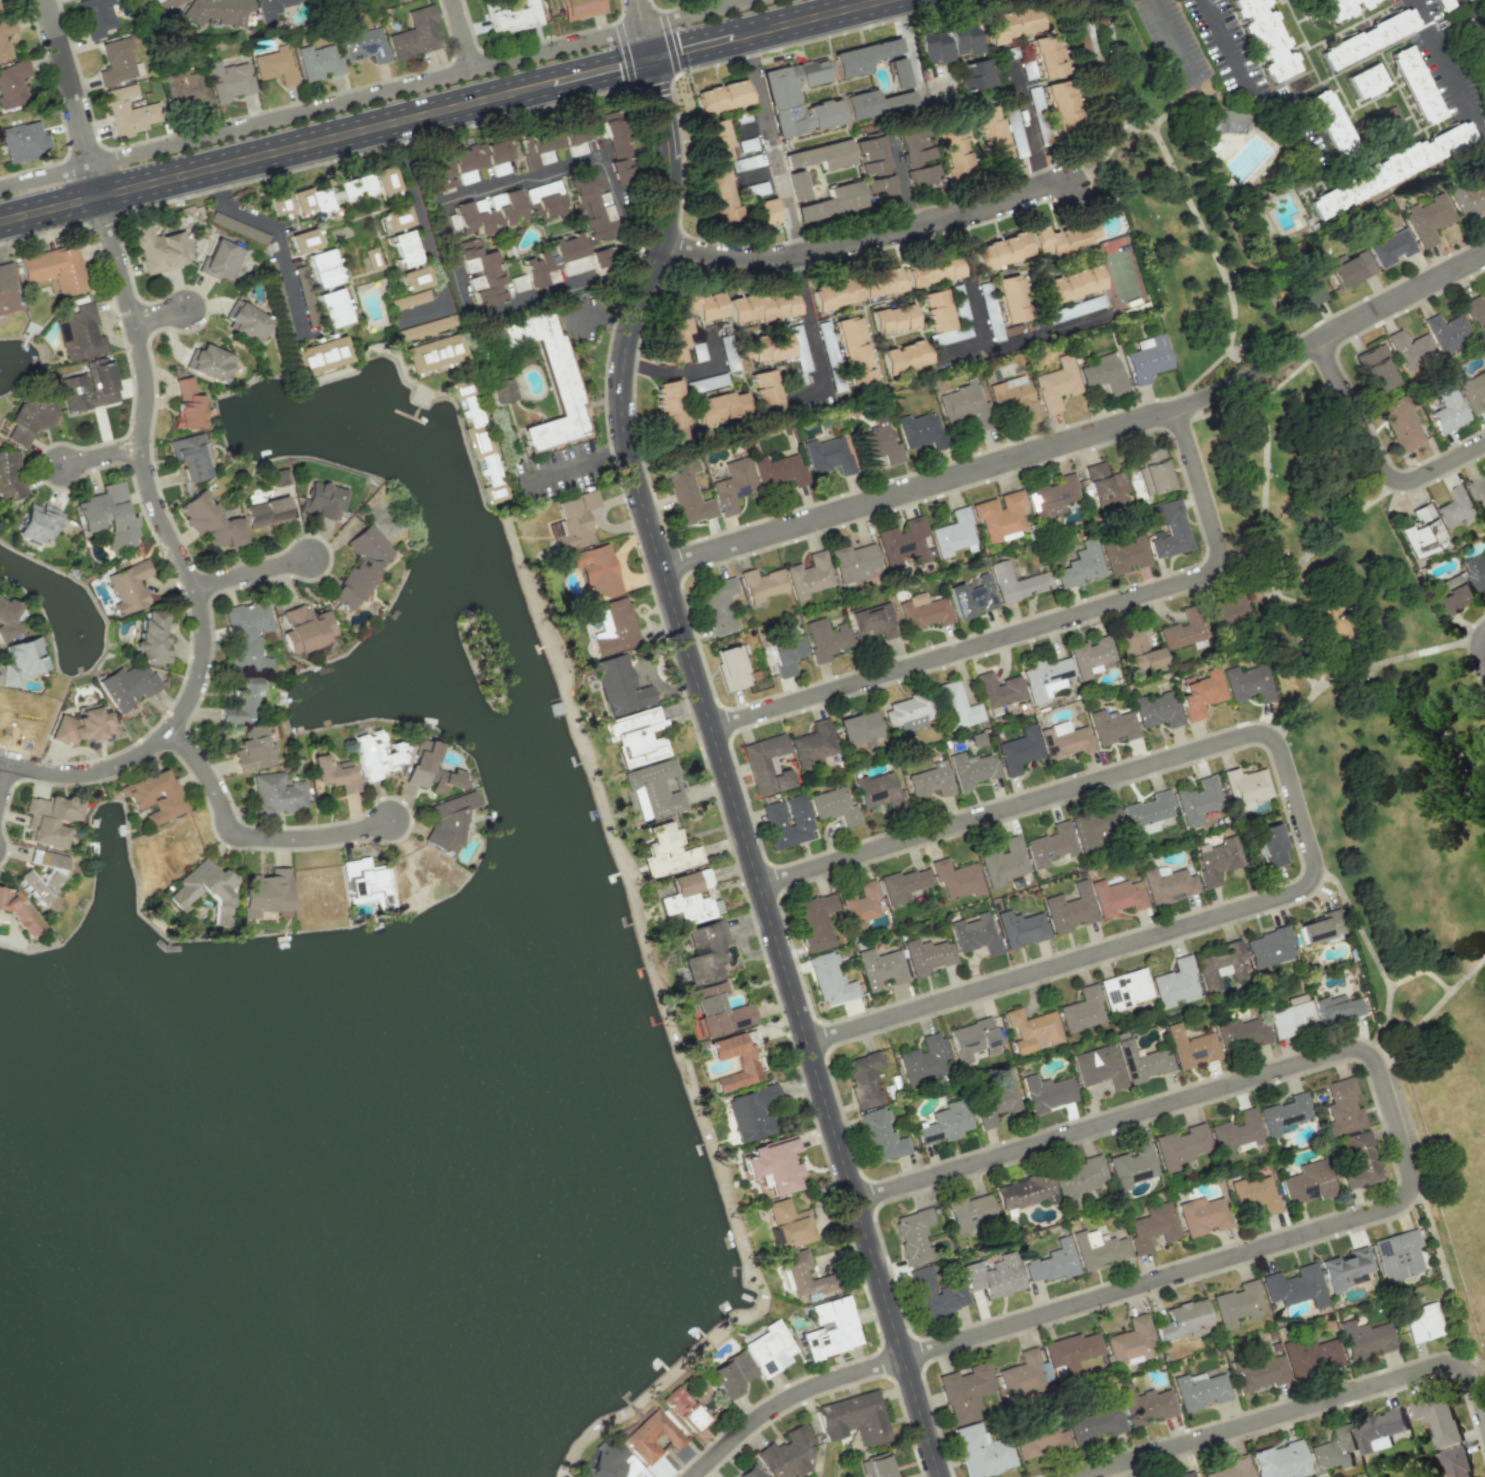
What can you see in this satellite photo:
building: (165, 7)
building: (272, 8)
building: (581, 8)
building: (1341, 8)
building: (217, 11)
building: (0, 12)
road: (637, 13)
road: (690, 13)
road: (1086, 13)
building: (510, 16)
building: (96, 17)
building: (1011, 24)
road: (1470, 27)
road: (765, 29)
building: (416, 33)
road: (464, 33)
building: (1264, 37)
building: (1367, 38)
building: (962, 39)
road: (643, 42)
road: (905, 45)
road: (1176, 45)
building: (3, 46)
building: (364, 46)
road: (557, 46)
building: (932, 46)
road: (1230, 51)
building: (1048, 56)
building: (862, 57)
building: (116, 62)
building: (318, 62)
building: (274, 65)
road: (1450, 68)
building: (898, 73)
building: (980, 73)
road: (1103, 78)
building: (228, 81)
building: (1365, 81)
building: (13, 84)
building: (1415, 84)
building: (184, 88)
road: (75, 96)
building: (721, 97)
building: (797, 98)
building: (873, 103)
building: (1061, 103)
building: (128, 111)
building: (1388, 121)
building: (1330, 122)
road: (237, 126)
road: (1030, 127)
road: (372, 128)
building: (706, 129)
building: (991, 135)
building: (552, 138)
building: (23, 141)
building: (717, 142)
building: (1017, 142)
building: (617, 145)
road: (771, 146)
building: (820, 154)
building: (953, 154)
building: (916, 156)
building: (468, 162)
building: (873, 167)
building: (1392, 167)
road: (1347, 173)
road: (1181, 184)
building: (796, 185)
building: (355, 188)
building: (720, 195)
building: (1469, 199)
building: (312, 200)
building: (546, 200)
building: (832, 202)
building: (279, 204)
park: (1172, 204)
building: (591, 205)
road: (49, 208)
building: (491, 212)
building: (763, 212)
building: (397, 217)
road: (441, 218)
building: (1429, 218)
road: (276, 237)
road: (426, 237)
building: (1063, 238)
building: (304, 239)
road: (868, 239)
building: (1389, 247)
building: (404, 248)
building: (160, 249)
building: (1002, 250)
building: (372, 258)
building: (552, 258)
building: (598, 258)
building: (320, 259)
building: (221, 260)
building: (54, 269)
building: (1351, 269)
building: (932, 270)
building: (482, 272)
building: (326, 276)
building: (415, 278)
building: (881, 281)
building: (1068, 285)
building: (835, 294)
building: (1304, 296)
building: (1011, 298)
building: (410, 300)
building: (763, 306)
building: (332, 307)
building: (1074, 309)
road: (602, 310)
building: (937, 310)
road: (161, 313)
building: (1476, 314)
building: (893, 319)
building: (245, 321)
building: (425, 327)
building: (1446, 332)
building: (80, 334)
building: (950, 335)
road: (814, 338)
building: (673, 339)
road: (983, 339)
building: (799, 346)
building: (770, 347)
building: (1410, 349)
road: (1263, 350)
building: (854, 351)
building: (433, 353)
building: (321, 354)
building: (904, 357)
building: (1147, 358)
building: (208, 363)
building: (1375, 367)
road: (685, 369)
road: (1209, 371)
building: (547, 373)
building: (1103, 373)
building: (1056, 383)
building: (89, 386)
building: (503, 390)
building: (765, 390)
building: (1472, 391)
building: (1014, 397)
building: (960, 403)
building: (186, 404)
building: (718, 407)
building: (1447, 409)
building: (670, 411)
building: (26, 420)
building: (1400, 424)
building: (919, 431)
road: (1083, 436)
building: (877, 440)
building: (480, 447)
road: (101, 454)
building: (190, 455)
building: (828, 455)
road: (1377, 457)
road: (572, 465)
building: (778, 470)
building: (1154, 470)
building: (10, 475)
building: (279, 477)
building: (733, 485)
building: (1104, 485)
building: (1478, 489)
building: (686, 494)
building: (1053, 496)
building: (322, 500)
building: (1457, 507)
building: (266, 512)
building: (999, 514)
building: (107, 516)
building: (575, 520)
building: (210, 521)
building: (37, 523)
building: (554, 528)
building: (1168, 530)
building: (1422, 532)
building: (953, 534)
building: (905, 542)
road: (1320, 542)
building: (1124, 554)
road: (178, 555)
building: (854, 562)
building: (1080, 565)
building: (360, 566)
building: (597, 570)
road: (1269, 570)
building: (1476, 570)
road: (255, 571)
building: (808, 575)
building: (1015, 583)
building: (762, 584)
building: (127, 587)
building: (1454, 594)
building: (972, 597)
building: (718, 605)
building: (1226, 610)
building: (921, 611)
building: (7, 619)
building: (872, 621)
road: (1043, 625)
building: (615, 627)
building: (304, 629)
building: (1183, 629)
building: (245, 631)
building: (150, 638)
building: (824, 639)
road: (1480, 649)
road: (1433, 650)
building: (1137, 651)
building: (786, 654)
building: (1090, 655)
building: (21, 661)
building: (730, 667)
road: (1365, 668)
building: (1045, 678)
building: (1247, 683)
building: (127, 685)
building: (619, 685)
building: (998, 690)
building: (1200, 694)
building: (238, 700)
building: (955, 706)
building: (1156, 710)
building: (904, 712)
road: (1417, 719)
building: (81, 726)
building: (1112, 726)
building: (858, 730)
building: (635, 736)
building: (1064, 740)
park: (1353, 741)
building: (813, 743)
building: (250, 750)
building: (1018, 750)
building: (376, 759)
building: (766, 764)
building: (430, 769)
building: (971, 769)
road: (725, 771)
building: (333, 773)
building: (930, 780)
road: (5, 783)
building: (1246, 788)
building: (654, 789)
building: (879, 791)
building: (275, 793)
building: (153, 795)
building: (1197, 800)
road: (1300, 805)
building: (834, 806)
building: (1147, 813)
building: (49, 819)
building: (448, 820)
building: (787, 821)
road: (253, 836)
building: (1072, 836)
building: (1270, 845)
building: (666, 851)
building: (1217, 860)
building: (1004, 862)
building: (43, 877)
building: (956, 878)
building: (366, 882)
building: (1167, 884)
building: (902, 885)
building: (205, 890)
building: (266, 893)
building: (1116, 896)
building: (689, 900)
building: (860, 905)
building: (1069, 909)
building: (20, 911)
building: (814, 922)
building: (1021, 928)
building: (1321, 929)
building: (975, 935)
building: (1268, 947)
building: (704, 951)
building: (926, 956)
building: (1220, 965)
building: (879, 968)
road: (1389, 983)
building: (1174, 984)
building: (1124, 989)
building: (1337, 1008)
building: (1081, 1010)
road: (1386, 1018)
building: (1290, 1019)
building: (726, 1020)
building: (1031, 1030)
building: (1239, 1032)
road: (1412, 1034)
building: (971, 1040)
building: (1189, 1047)
building: (923, 1058)
building: (1141, 1062)
building: (747, 1066)
building: (1097, 1067)
building: (863, 1079)
building: (1045, 1093)
building: (996, 1101)
building: (1342, 1107)
building: (1283, 1113)
building: (750, 1114)
road: (1394, 1119)
building: (944, 1123)
building: (1235, 1133)
building: (880, 1135)
building: (1181, 1146)
building: (1358, 1161)
building: (772, 1165)
building: (1132, 1166)
building: (1078, 1181)
building: (1307, 1183)
building: (1024, 1192)
building: (1254, 1194)
building: (970, 1212)
building: (1202, 1215)
building: (790, 1224)
building: (1152, 1227)
building: (913, 1235)
road: (1435, 1236)
building: (1097, 1249)
building: (1397, 1254)
building: (1052, 1262)
building: (1345, 1268)
building: (808, 1272)
building: (993, 1275)
building: (1295, 1286)
building: (933, 1294)
building: (1236, 1304)
building: (1185, 1320)
building: (1421, 1322)
building: (831, 1328)
building: (1365, 1338)
building: (1131, 1341)
building: (1071, 1350)
building: (1310, 1356)
road: (1468, 1361)
building: (1023, 1373)
building: (731, 1374)
building: (1259, 1374)
building: (1200, 1390)
building: (964, 1392)
road: (788, 1399)
building: (1145, 1405)
building: (687, 1407)
road: (1296, 1409)
building: (854, 1418)
building: (1438, 1419)
building: (1096, 1423)
building: (1379, 1430)
building: (652, 1436)
building: (1038, 1439)
building: (1333, 1451)
building: (981, 1452)
building: (787, 1453)
building: (608, 1461)
building: (1280, 1461)
building: (1455, 1462)
building: (875, 1466)
building: (1232, 1468)
building: (750, 1472)
building: (1184, 1474)

